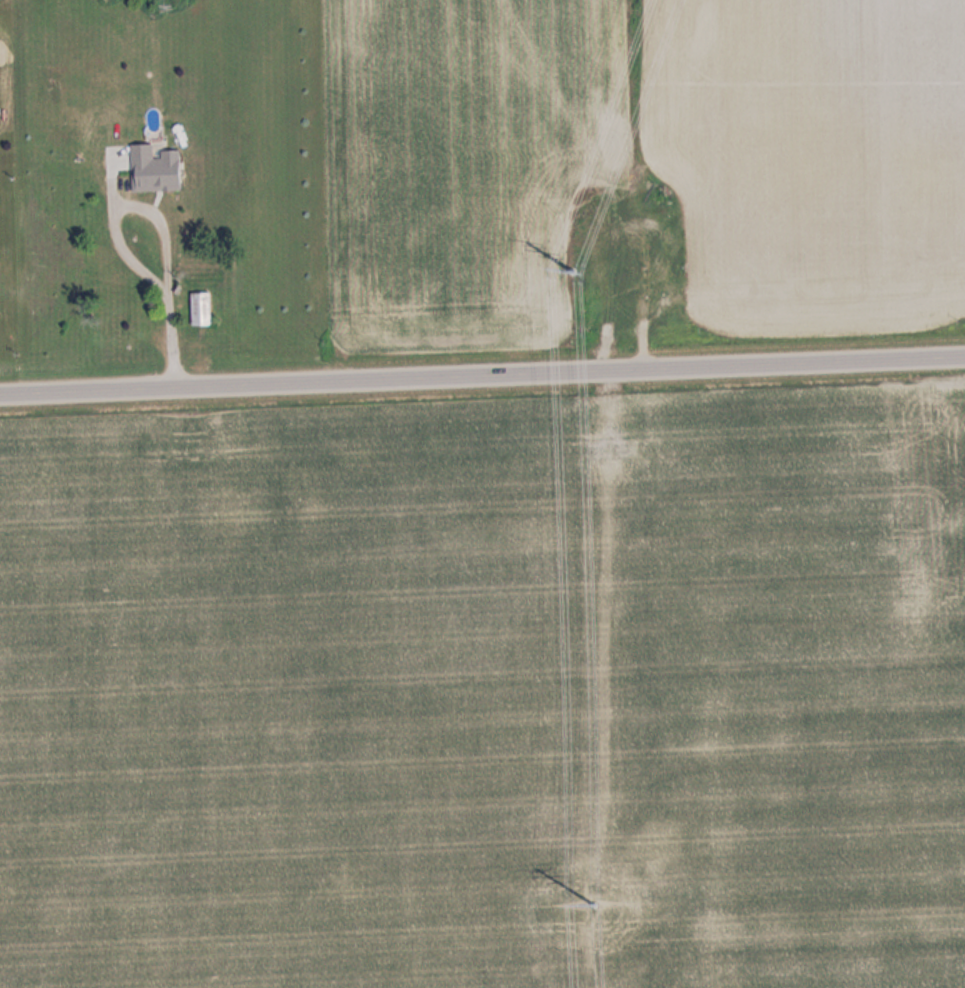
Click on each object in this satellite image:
building: (153, 168)
power tower: (566, 262)
building: (198, 308)
road: (482, 378)
power tower: (591, 901)

